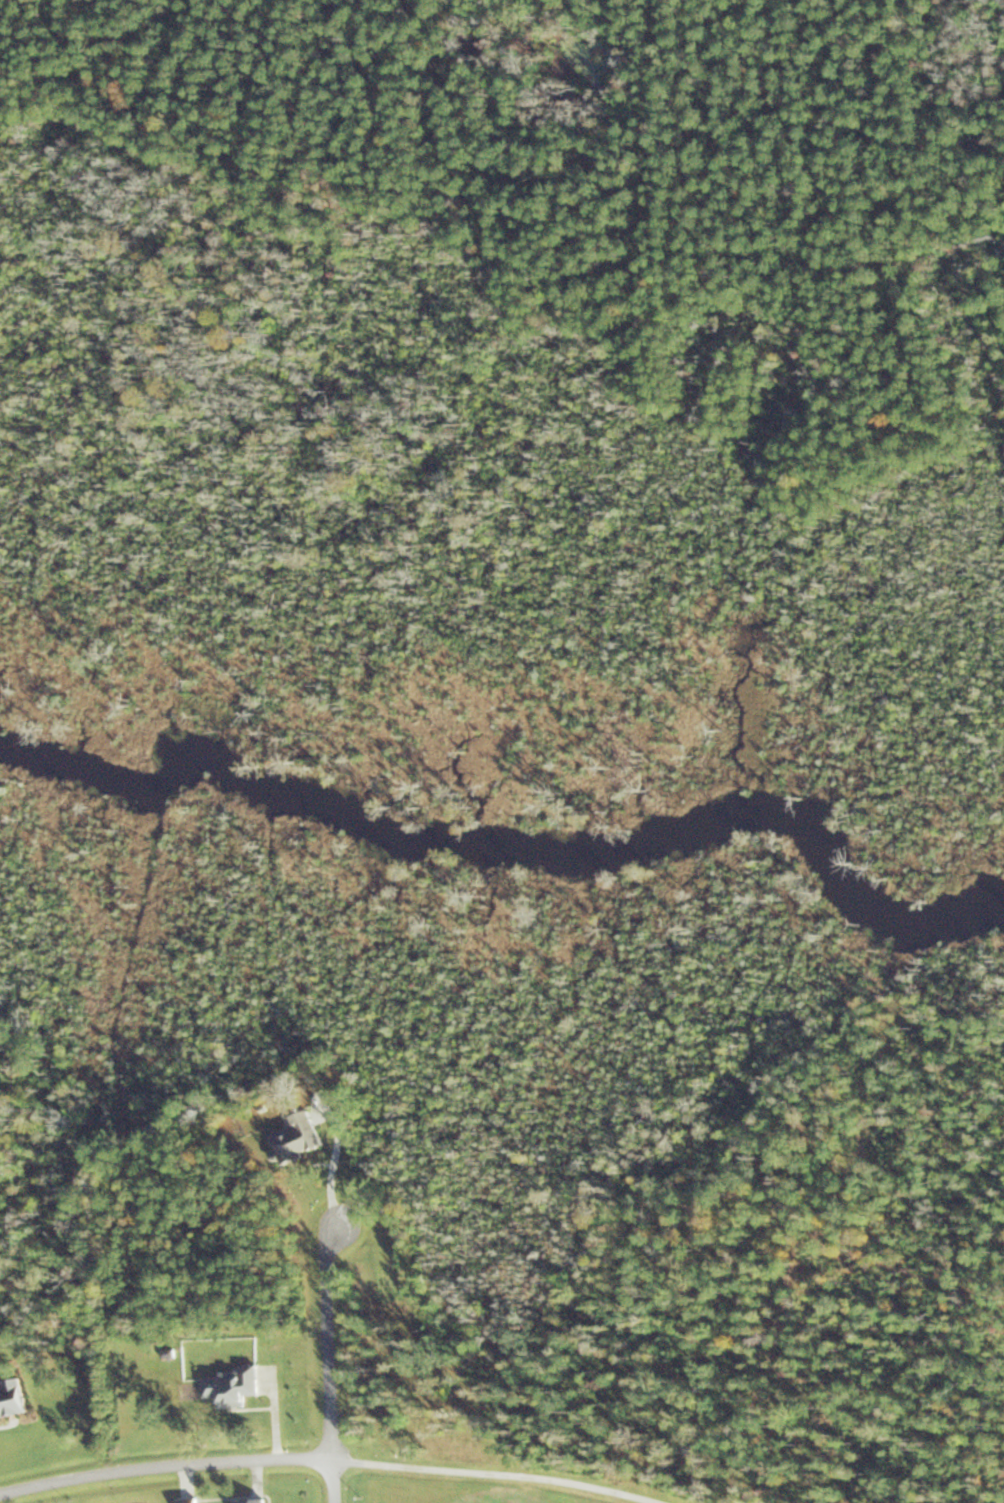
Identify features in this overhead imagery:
road: (329, 1342)
building: (10, 1396)
road: (327, 1458)
road: (335, 1481)
building: (250, 1500)

